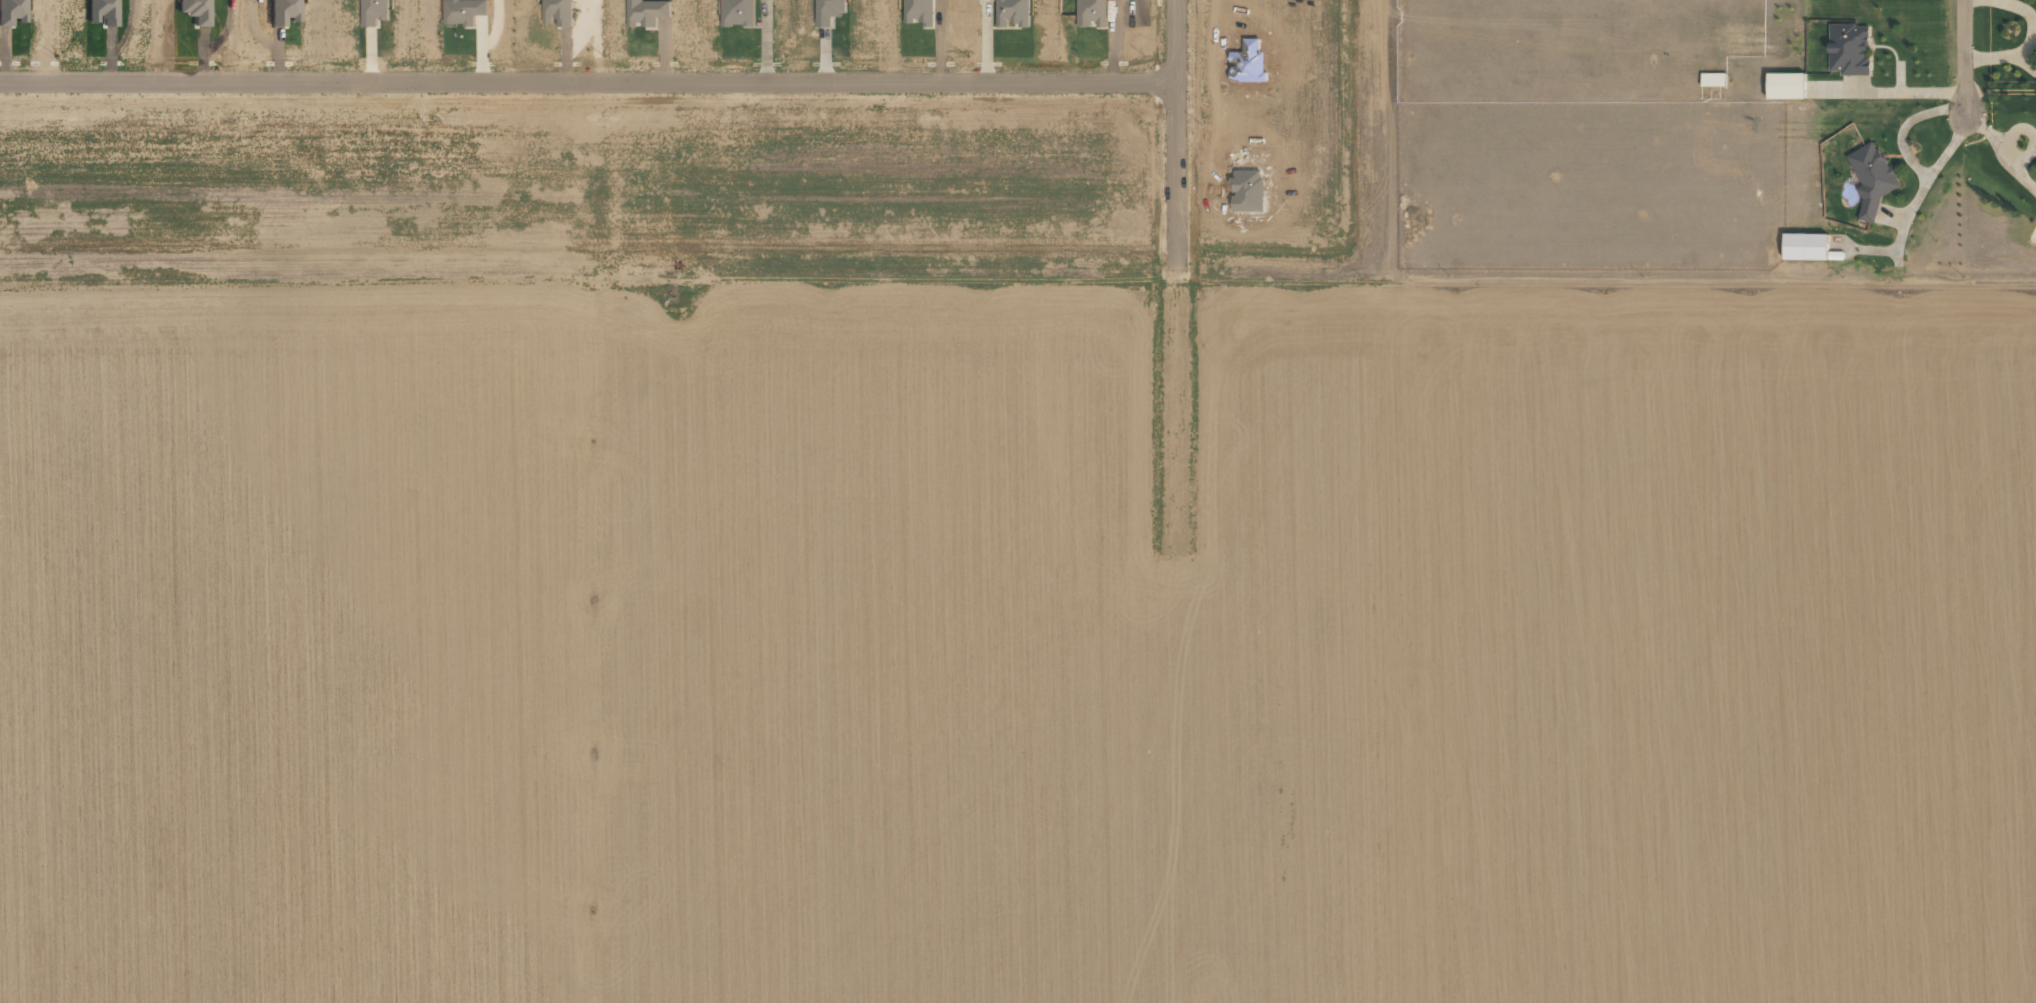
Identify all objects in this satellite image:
building: (194, 10)
building: (11, 11)
building: (283, 11)
building: (373, 11)
building: (463, 11)
building: (828, 11)
building: (919, 11)
building: (101, 12)
building: (558, 12)
building: (645, 12)
building: (737, 12)
building: (1011, 12)
building: (1092, 12)
building: (1848, 49)
road: (1963, 57)
building: (1712, 79)
road: (586, 82)
building: (1784, 85)
building: (1821, 89)
road: (1174, 141)
building: (1871, 178)
building: (1804, 246)
road: (1017, 283)

